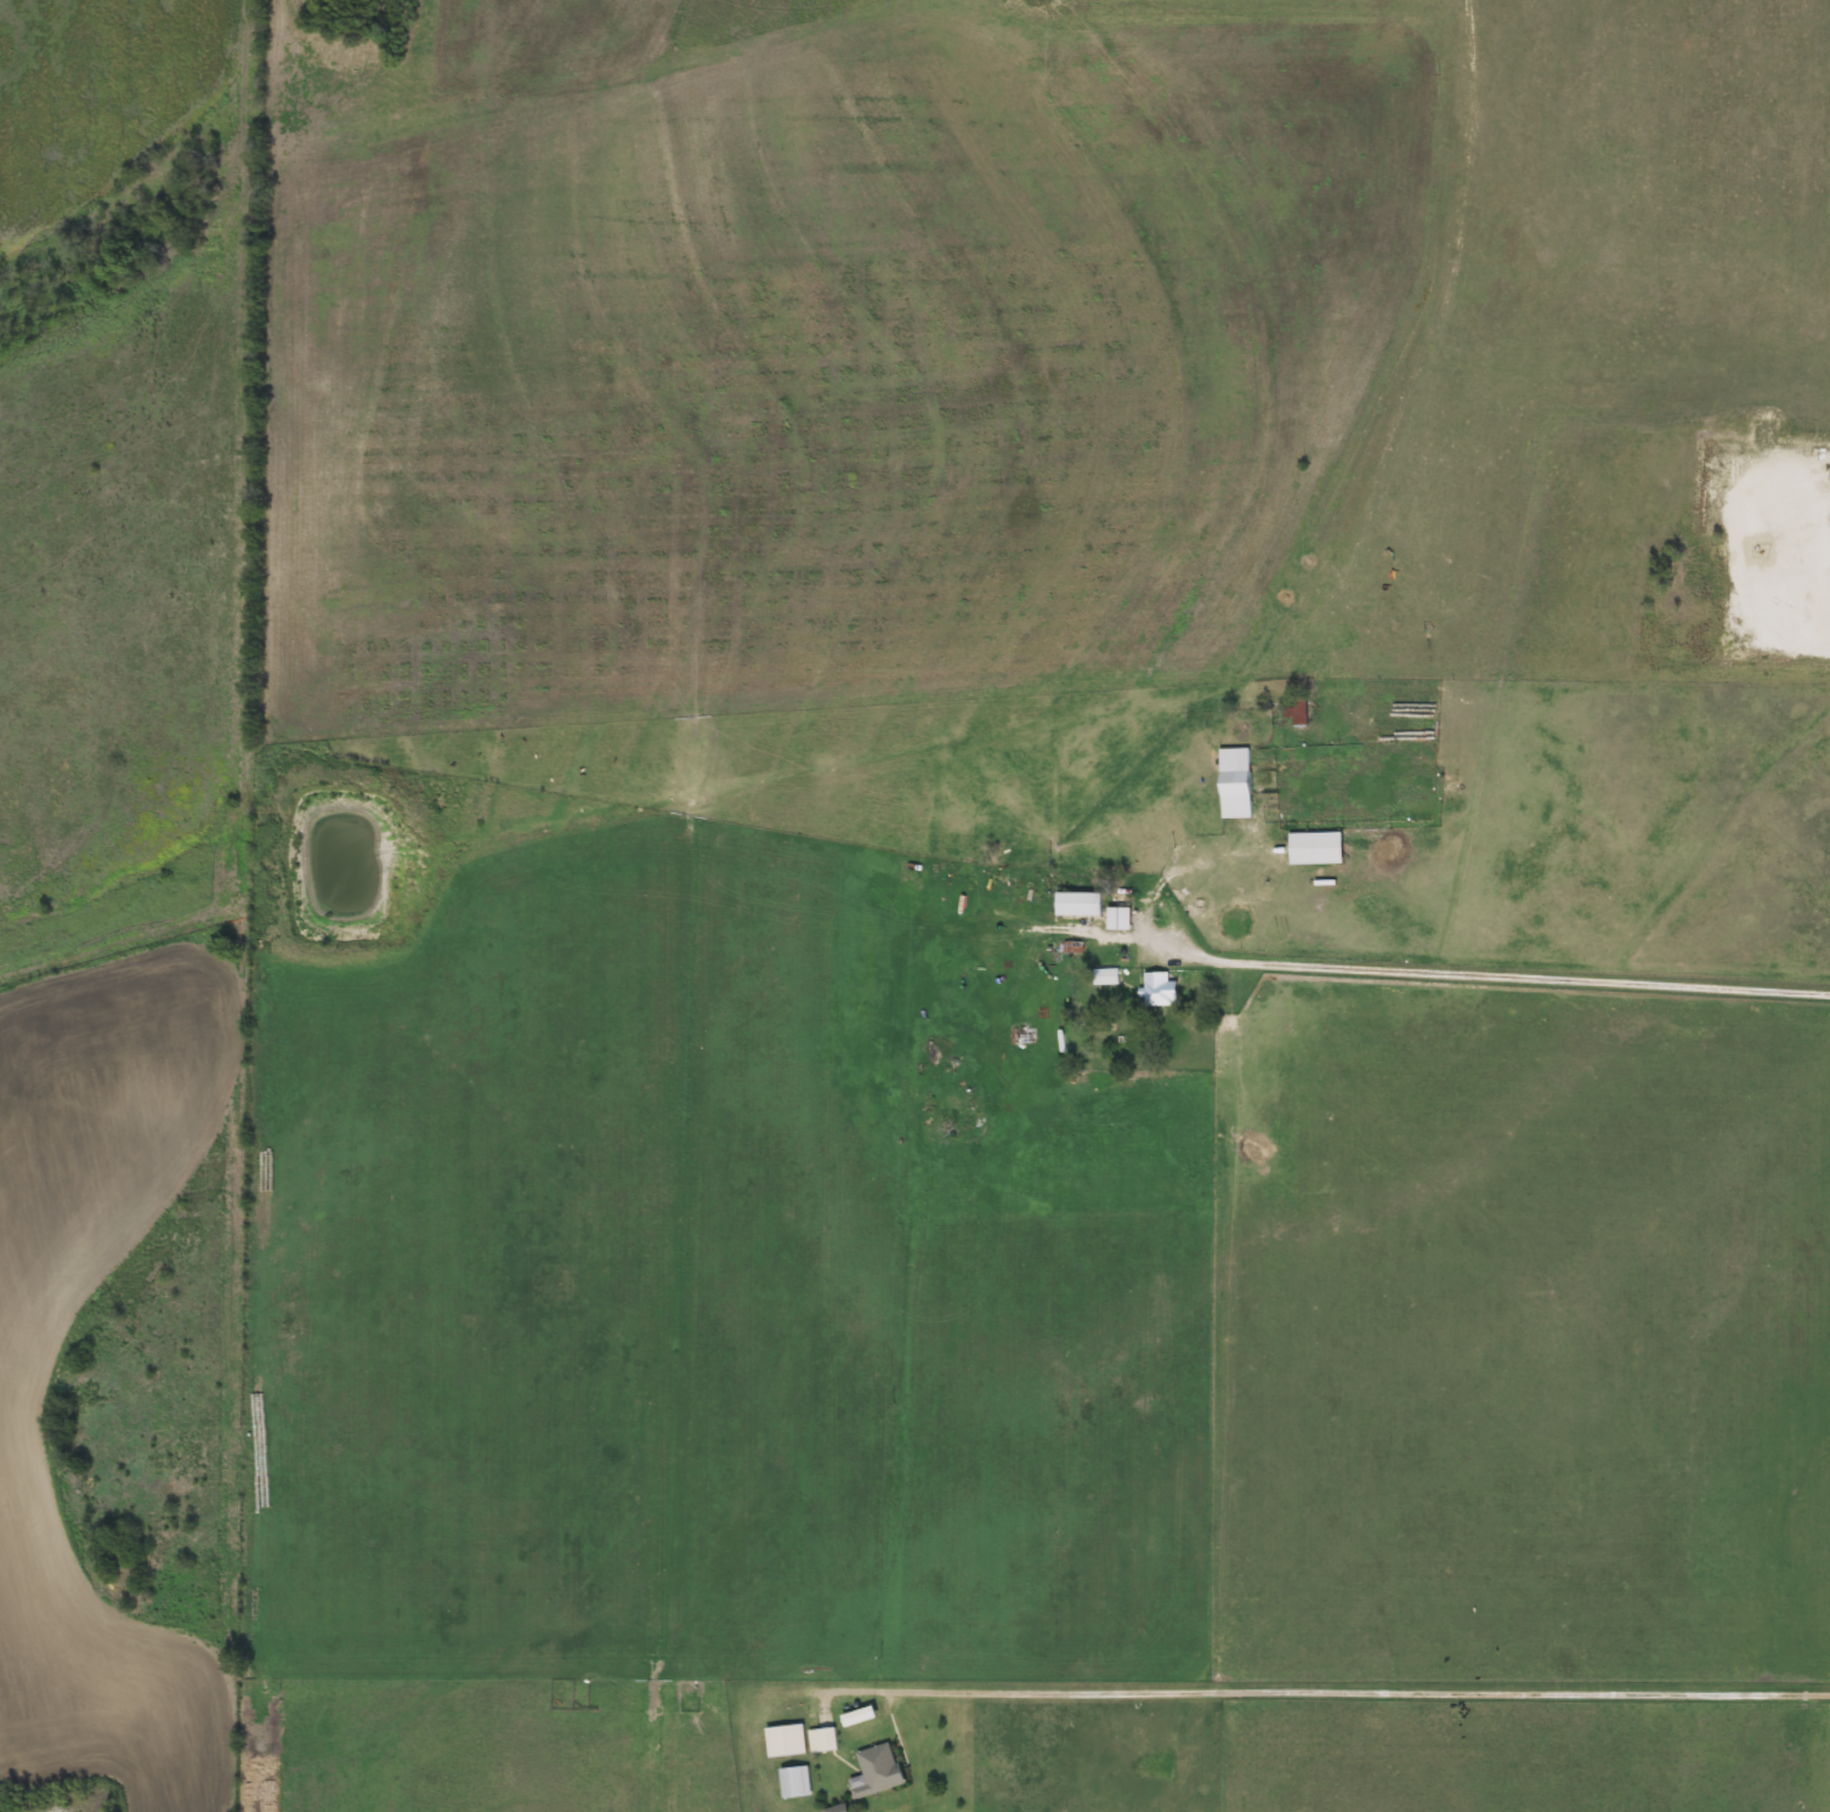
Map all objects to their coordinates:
building: (1228, 785)
building: (1308, 839)
building: (1070, 905)
building: (1111, 919)
road: (1491, 975)
building: (1099, 978)
building: (1154, 990)
building: (684, 1691)
road: (1335, 1695)
building: (850, 1716)
building: (816, 1739)
building: (778, 1740)
building: (872, 1769)
building: (788, 1780)
building: (831, 1808)

